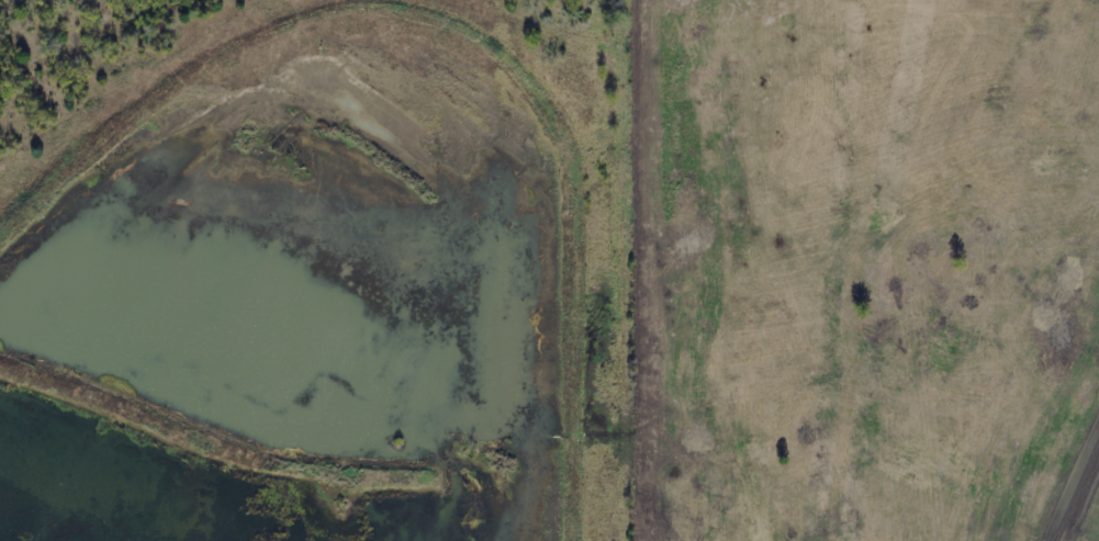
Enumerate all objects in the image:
road: (641, 270)

